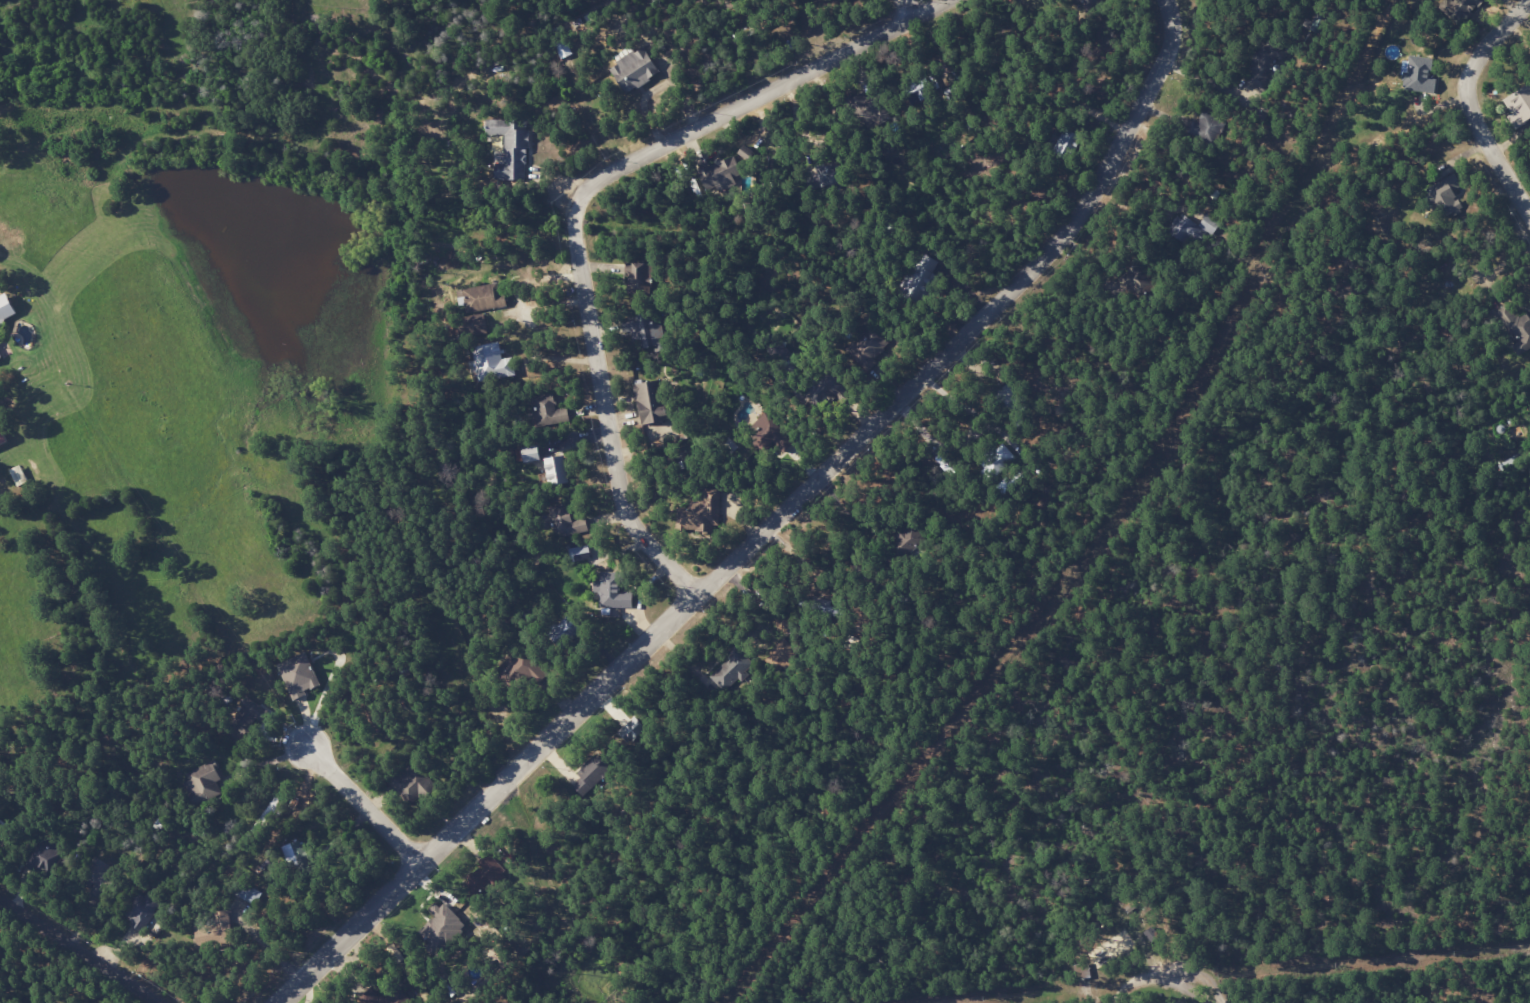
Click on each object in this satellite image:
road: (906, 9)
building: (561, 48)
building: (1265, 64)
building: (634, 70)
building: (1418, 75)
road: (1467, 102)
building: (1518, 104)
building: (1066, 144)
building: (509, 147)
building: (720, 173)
building: (1445, 192)
road: (578, 203)
building: (639, 276)
building: (483, 297)
building: (5, 309)
building: (1519, 332)
building: (646, 333)
building: (1, 353)
building: (492, 363)
building: (544, 408)
building: (768, 435)
building: (2, 438)
building: (529, 453)
building: (555, 470)
building: (700, 514)
building: (569, 523)
road: (768, 526)
building: (579, 553)
building: (612, 591)
building: (779, 656)
building: (730, 668)
building: (299, 675)
building: (249, 714)
building: (630, 729)
building: (591, 773)
building: (203, 783)
road: (356, 797)
building: (485, 877)
building: (248, 893)
building: (144, 910)
building: (446, 923)
building: (211, 931)
road: (78, 952)

